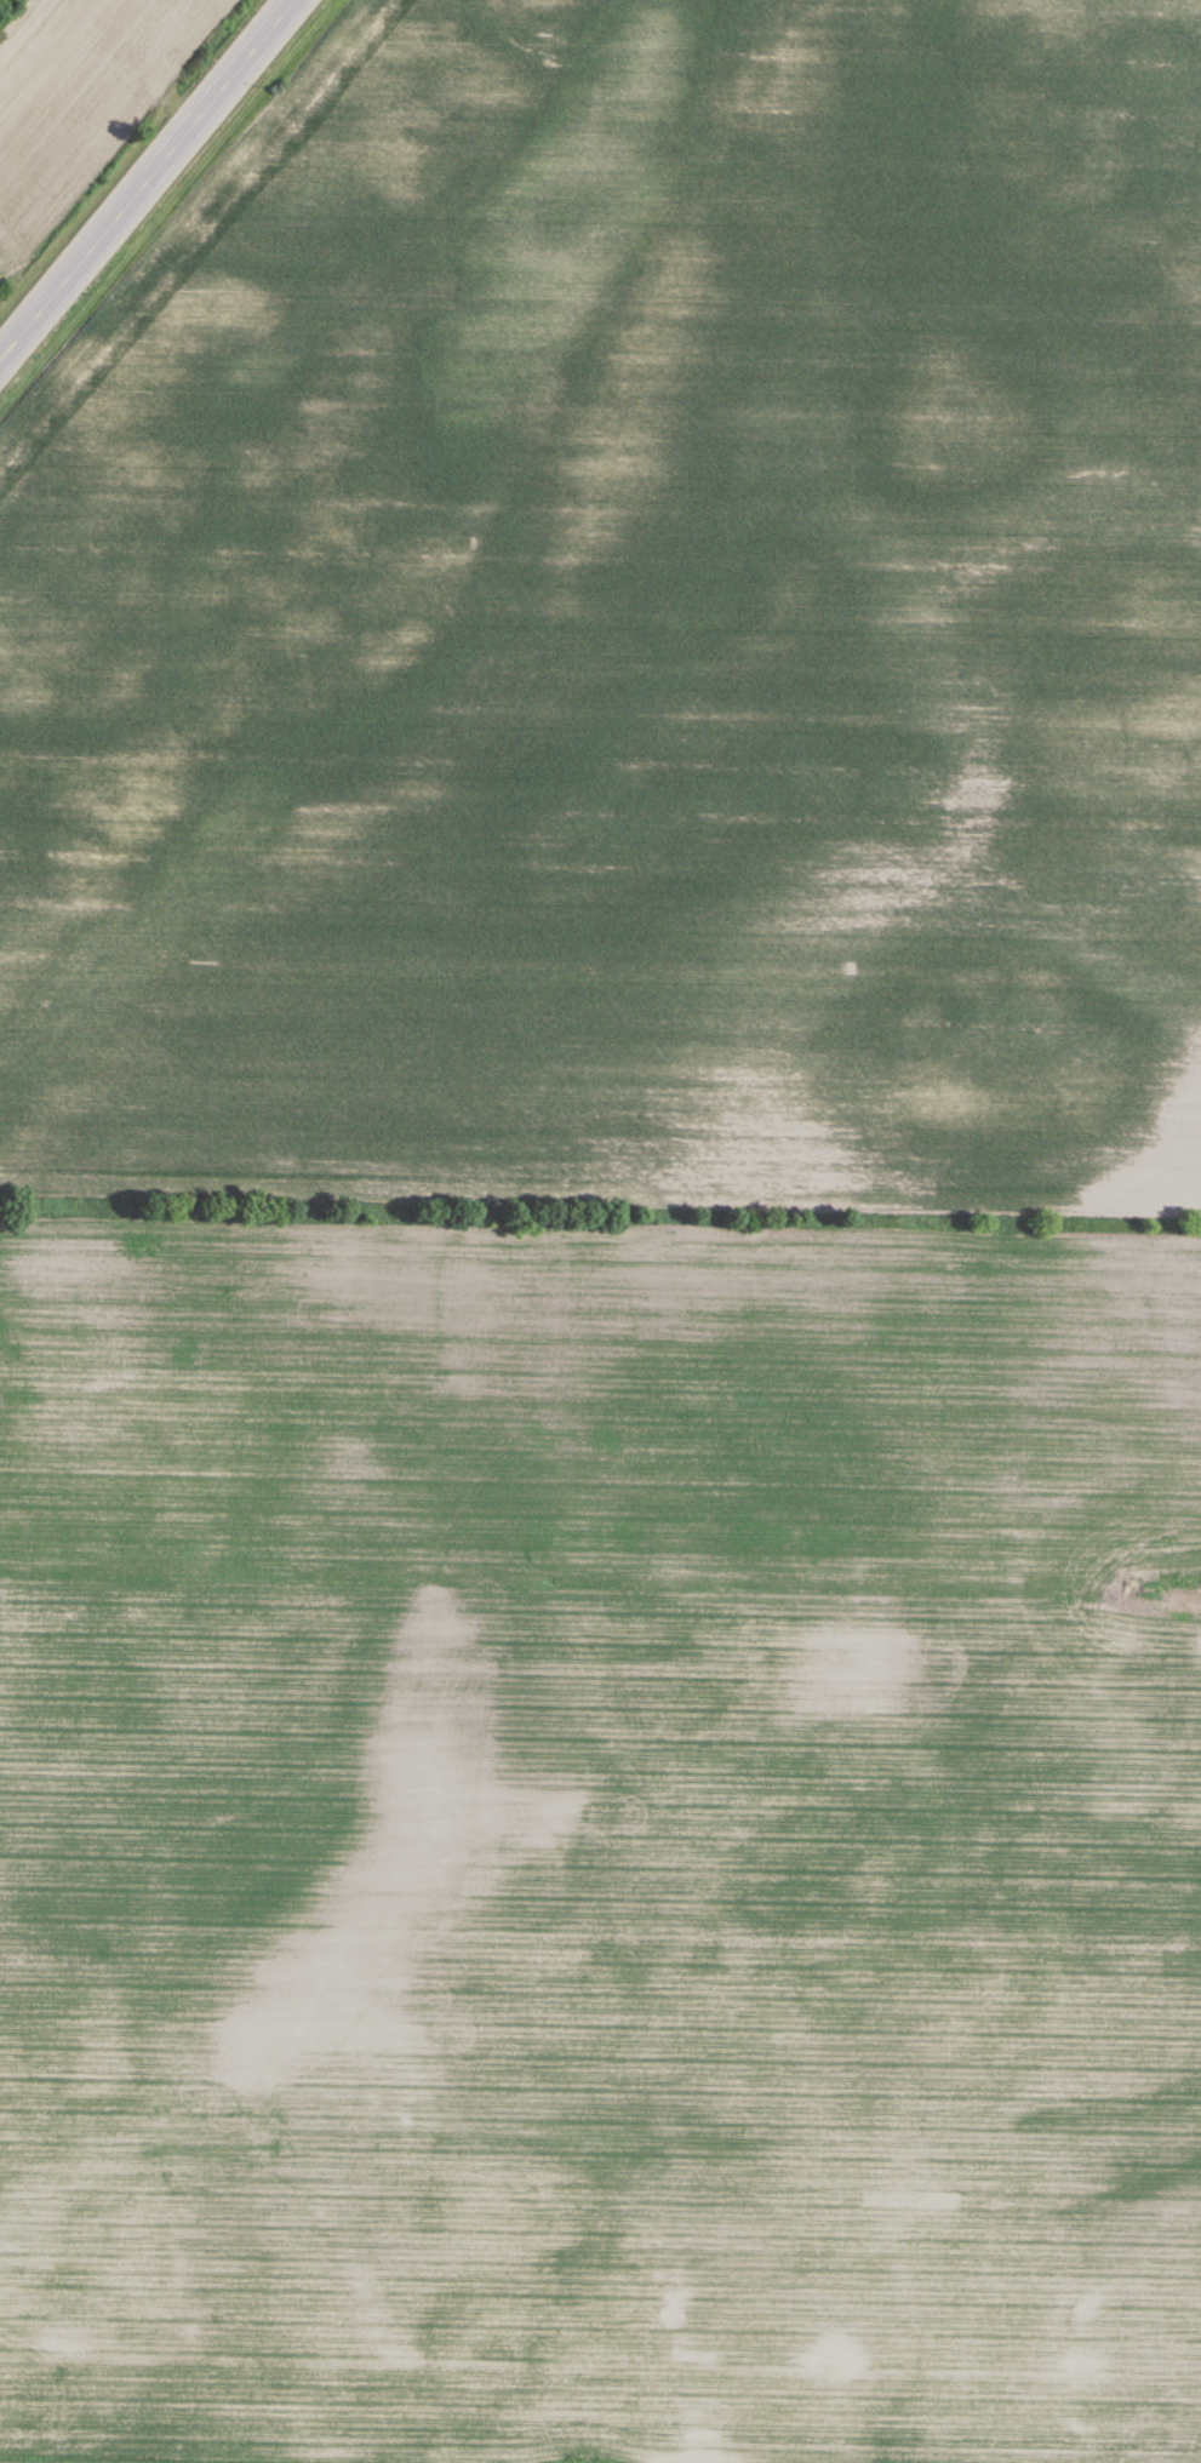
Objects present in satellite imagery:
road: (147, 178)
road: (255, 2451)

